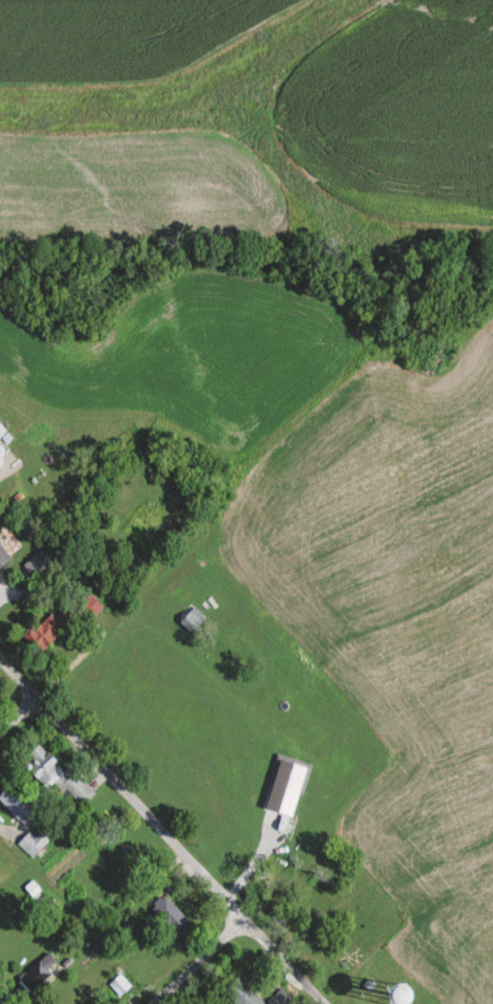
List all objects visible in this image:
road: (183, 79)
building: (3, 430)
building: (4, 557)
building: (41, 563)
building: (195, 619)
building: (54, 628)
road: (89, 636)
building: (1, 689)
building: (63, 776)
building: (19, 804)
road: (162, 829)
building: (35, 843)
building: (173, 912)
road: (198, 961)
building: (42, 969)
building: (123, 984)
building: (247, 994)
building: (283, 997)
water tower: (394, 999)

